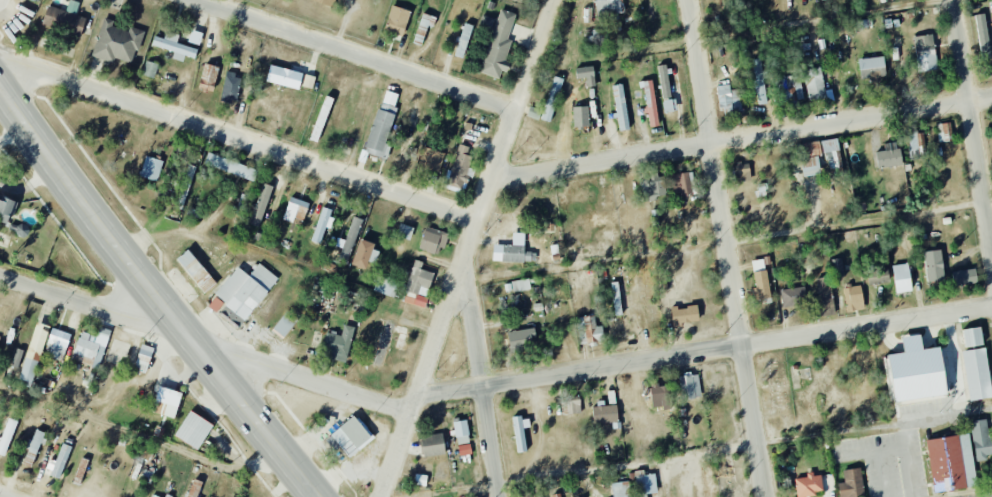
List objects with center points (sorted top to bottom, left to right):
building: (325, 2)
road: (532, 6)
building: (608, 10)
building: (65, 18)
building: (396, 20)
road: (840, 23)
building: (863, 23)
building: (982, 36)
building: (463, 40)
building: (116, 43)
building: (174, 46)
building: (498, 46)
building: (925, 53)
road: (353, 57)
building: (871, 63)
building: (149, 69)
building: (873, 73)
building: (586, 75)
building: (283, 77)
building: (208, 78)
building: (308, 81)
building: (664, 81)
building: (759, 81)
building: (780, 84)
building: (814, 84)
building: (230, 88)
building: (798, 89)
building: (728, 98)
building: (552, 99)
building: (649, 102)
building: (669, 105)
building: (620, 107)
building: (580, 117)
road: (973, 121)
building: (382, 125)
building: (944, 132)
road: (742, 140)
road: (239, 142)
building: (916, 144)
building: (831, 154)
building: (810, 158)
building: (888, 158)
building: (430, 160)
building: (230, 167)
building: (459, 167)
building: (151, 168)
building: (742, 172)
building: (682, 185)
building: (655, 189)
building: (261, 204)
building: (6, 209)
building: (295, 210)
building: (322, 224)
building: (404, 231)
road: (205, 240)
building: (349, 240)
building: (432, 241)
road: (730, 242)
road: (469, 248)
road: (723, 248)
building: (512, 254)
building: (364, 255)
building: (837, 266)
building: (933, 266)
building: (195, 271)
building: (965, 277)
building: (901, 279)
building: (760, 280)
building: (417, 285)
building: (520, 285)
building: (386, 286)
building: (245, 289)
road: (156, 294)
building: (825, 294)
building: (793, 297)
building: (853, 298)
building: (616, 303)
building: (215, 304)
building: (3, 312)
building: (684, 315)
building: (232, 316)
building: (284, 324)
building: (588, 330)
building: (972, 337)
building: (38, 338)
building: (521, 340)
building: (57, 344)
road: (205, 344)
building: (338, 344)
building: (383, 344)
building: (91, 347)
road: (704, 349)
building: (143, 358)
building: (28, 370)
building: (916, 372)
building: (977, 374)
road: (482, 377)
building: (689, 387)
building: (656, 396)
building: (168, 401)
building: (573, 405)
building: (605, 414)
building: (193, 430)
building: (461, 432)
building: (520, 433)
building: (6, 436)
building: (351, 436)
road: (140, 437)
building: (981, 440)
building: (432, 446)
building: (33, 447)
building: (464, 450)
road: (717, 454)
building: (60, 461)
building: (951, 463)
building: (420, 480)
road: (670, 480)
building: (645, 483)
building: (851, 483)
building: (808, 485)
building: (621, 489)
road: (8, 494)
building: (555, 495)
building: (151, 496)
building: (534, 496)

